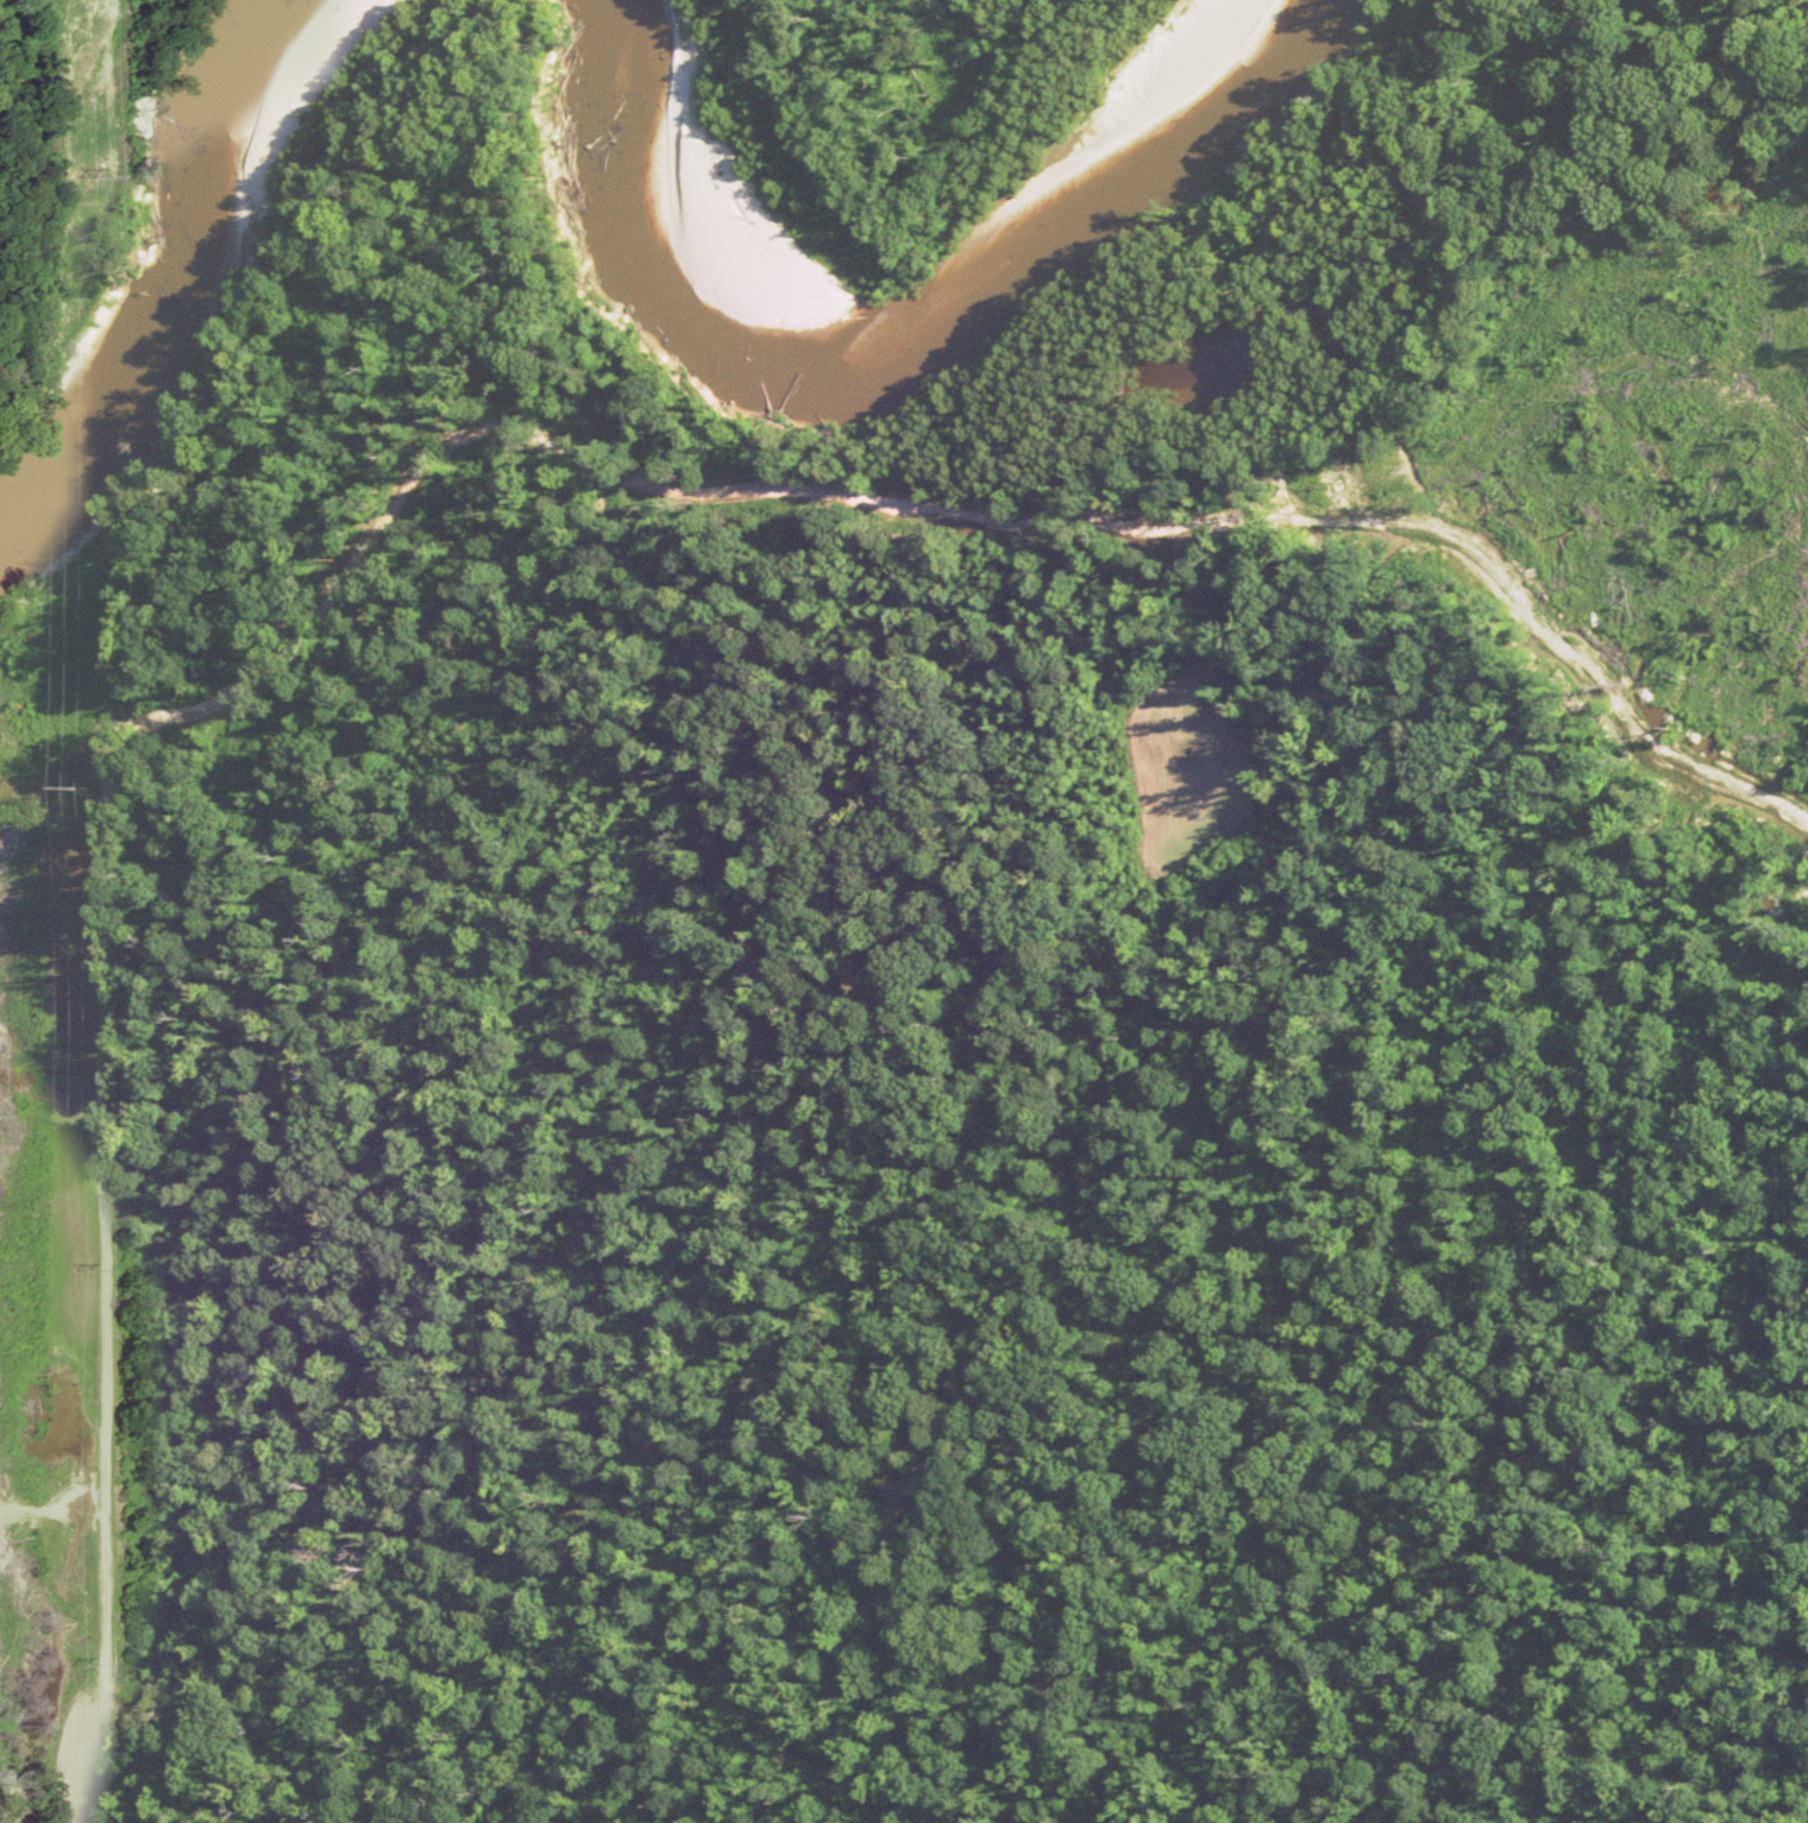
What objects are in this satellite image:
power tower: (82, 177)
river: (227, 209)
river: (923, 331)
river: (51, 454)
power tower: (82, 784)
power tower: (77, 1270)
power tower: (81, 1664)

